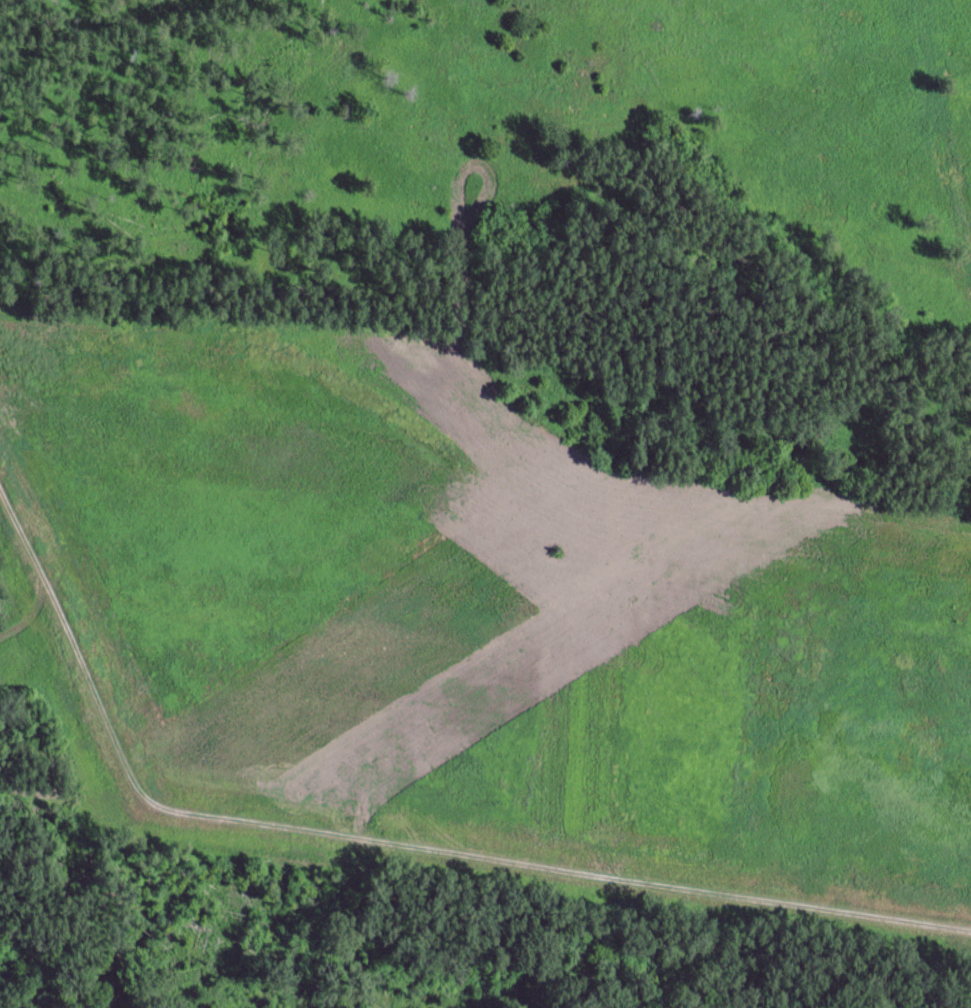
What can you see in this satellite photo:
road: (393, 842)

